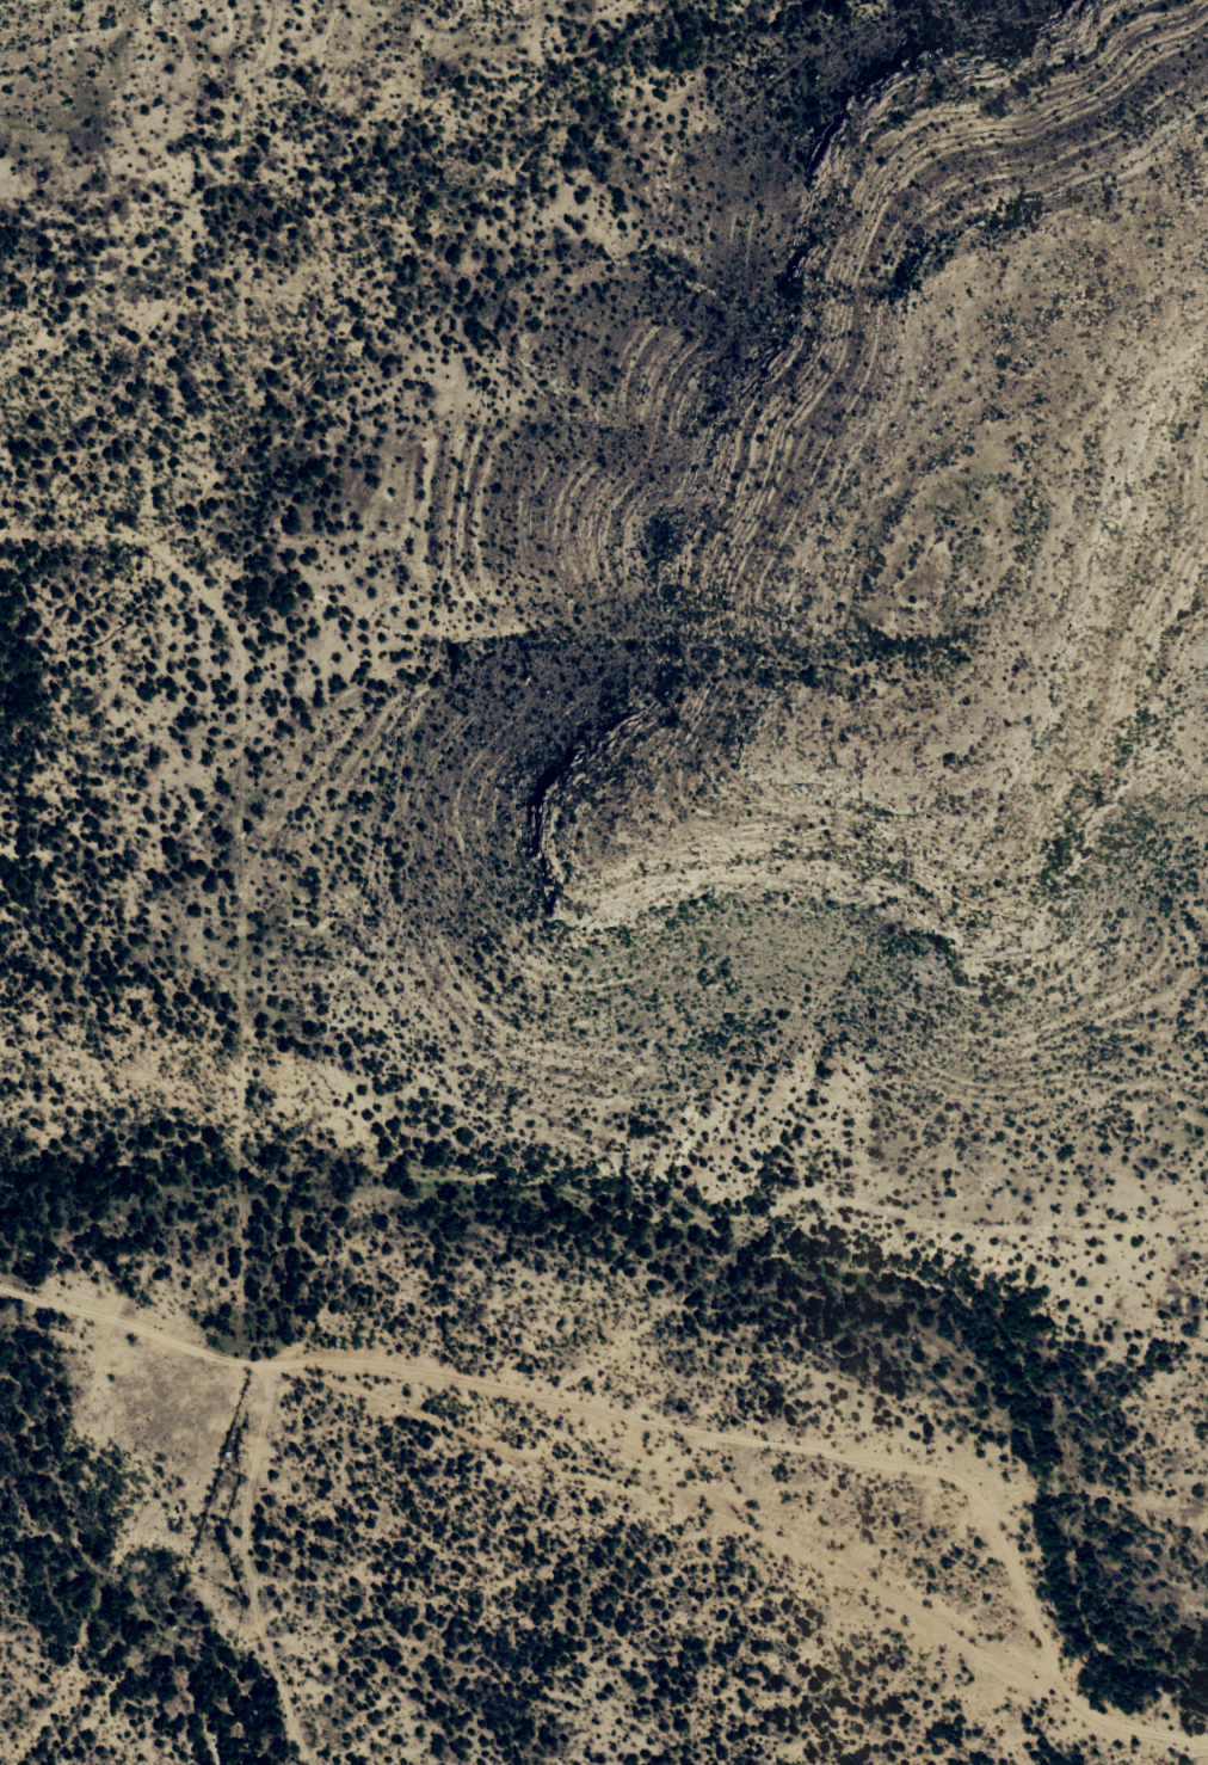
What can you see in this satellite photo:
road: (616, 1498)

